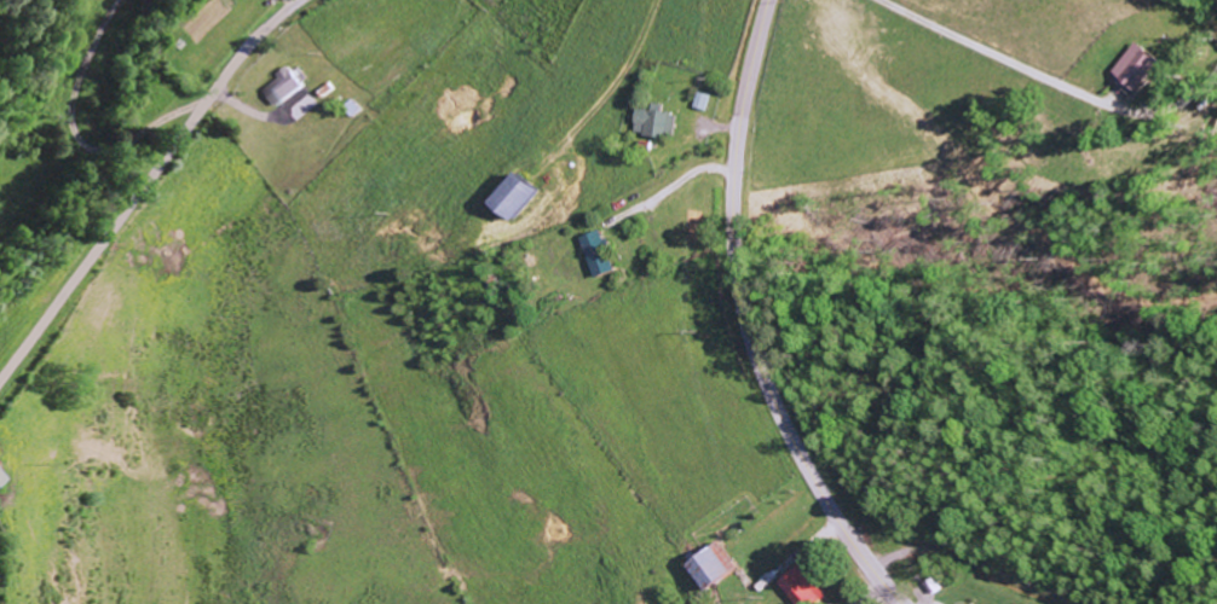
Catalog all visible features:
road: (1010, 58)
building: (1140, 68)
building: (285, 88)
building: (702, 103)
building: (656, 124)
road: (146, 185)
building: (512, 198)
building: (598, 255)
road: (748, 321)
building: (1, 480)
road: (977, 563)
building: (714, 568)
building: (804, 587)

